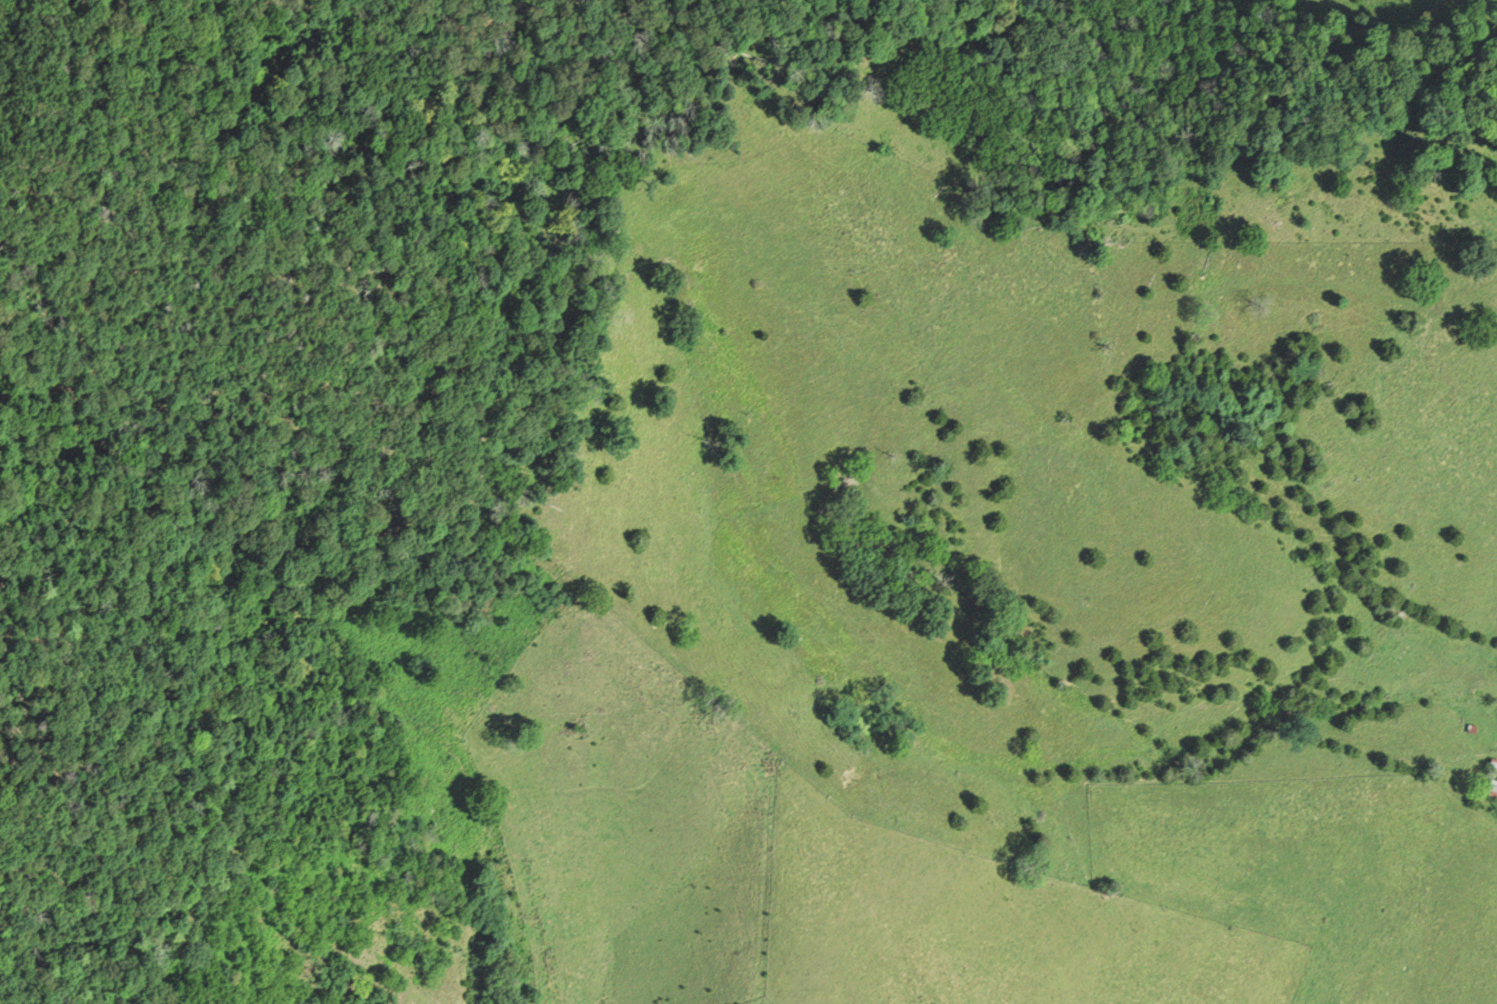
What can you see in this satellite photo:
building: (1494, 789)

